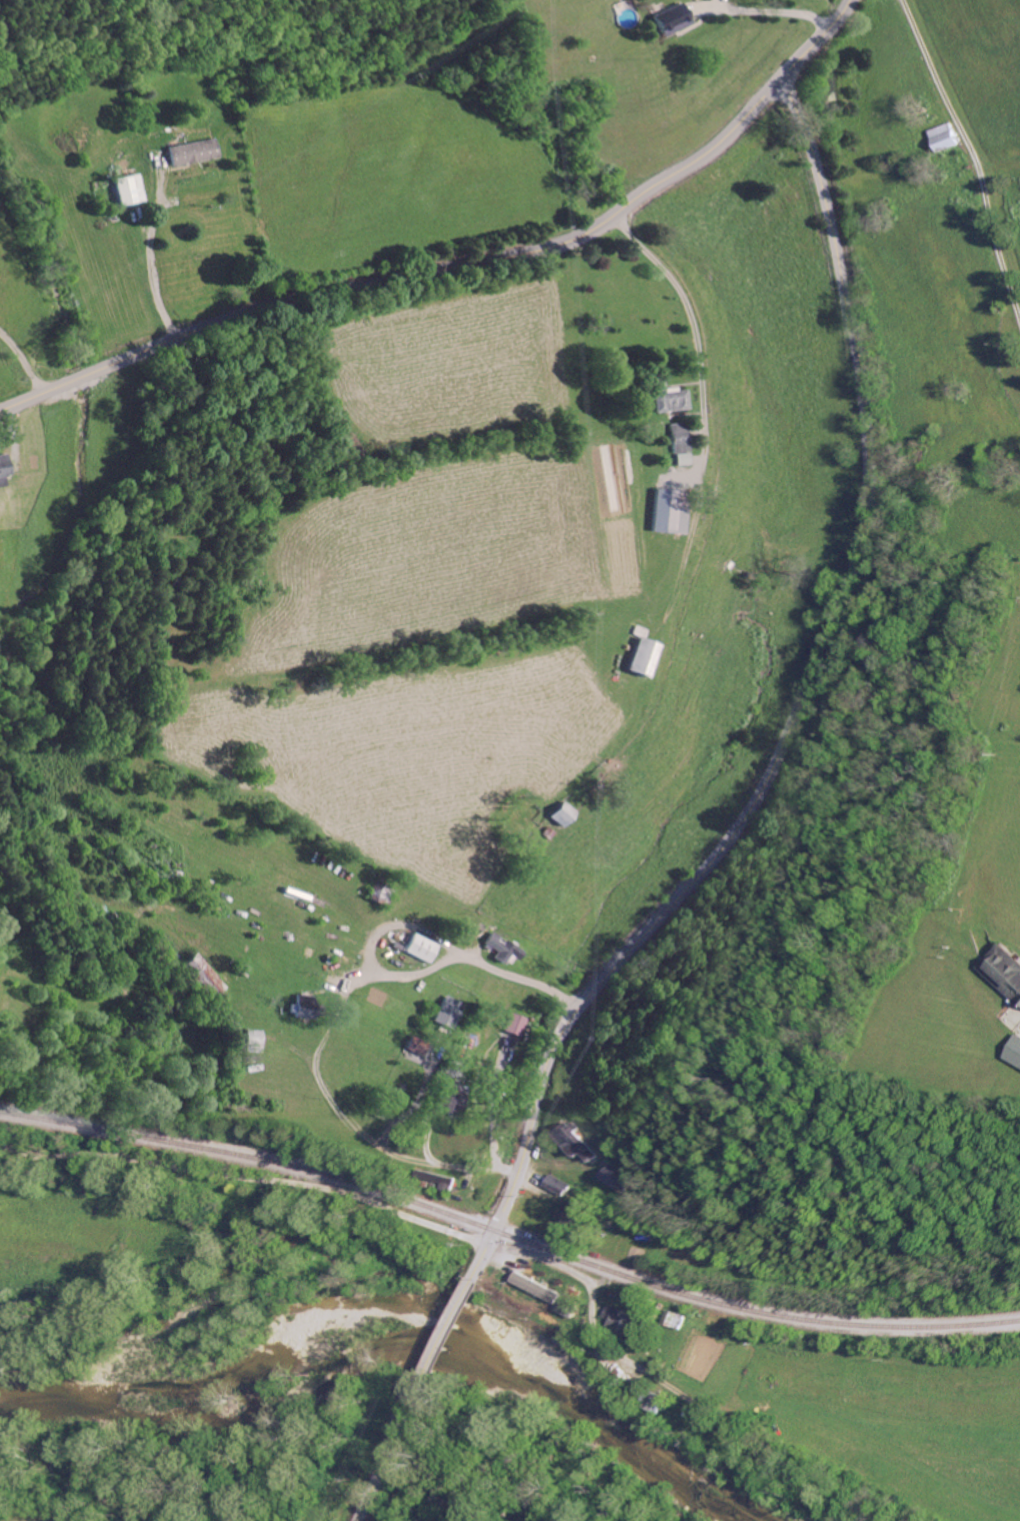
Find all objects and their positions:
road: (771, 14)
building: (676, 18)
road: (818, 39)
building: (196, 151)
road: (973, 159)
road: (153, 259)
road: (411, 275)
road: (22, 357)
building: (674, 398)
road: (708, 404)
building: (683, 442)
building: (6, 465)
building: (672, 510)
building: (647, 656)
road: (800, 703)
building: (568, 813)
building: (508, 946)
building: (428, 947)
building: (1006, 971)
building: (207, 974)
building: (310, 1005)
building: (452, 1010)
building: (520, 1022)
road: (333, 1024)
building: (420, 1043)
building: (1015, 1051)
building: (457, 1103)
building: (575, 1141)
road: (246, 1175)
building: (609, 1178)
building: (555, 1184)
building: (570, 1214)
railway: (507, 1238)
road: (589, 1286)
building: (624, 1320)
road: (442, 1338)
road: (380, 1469)

